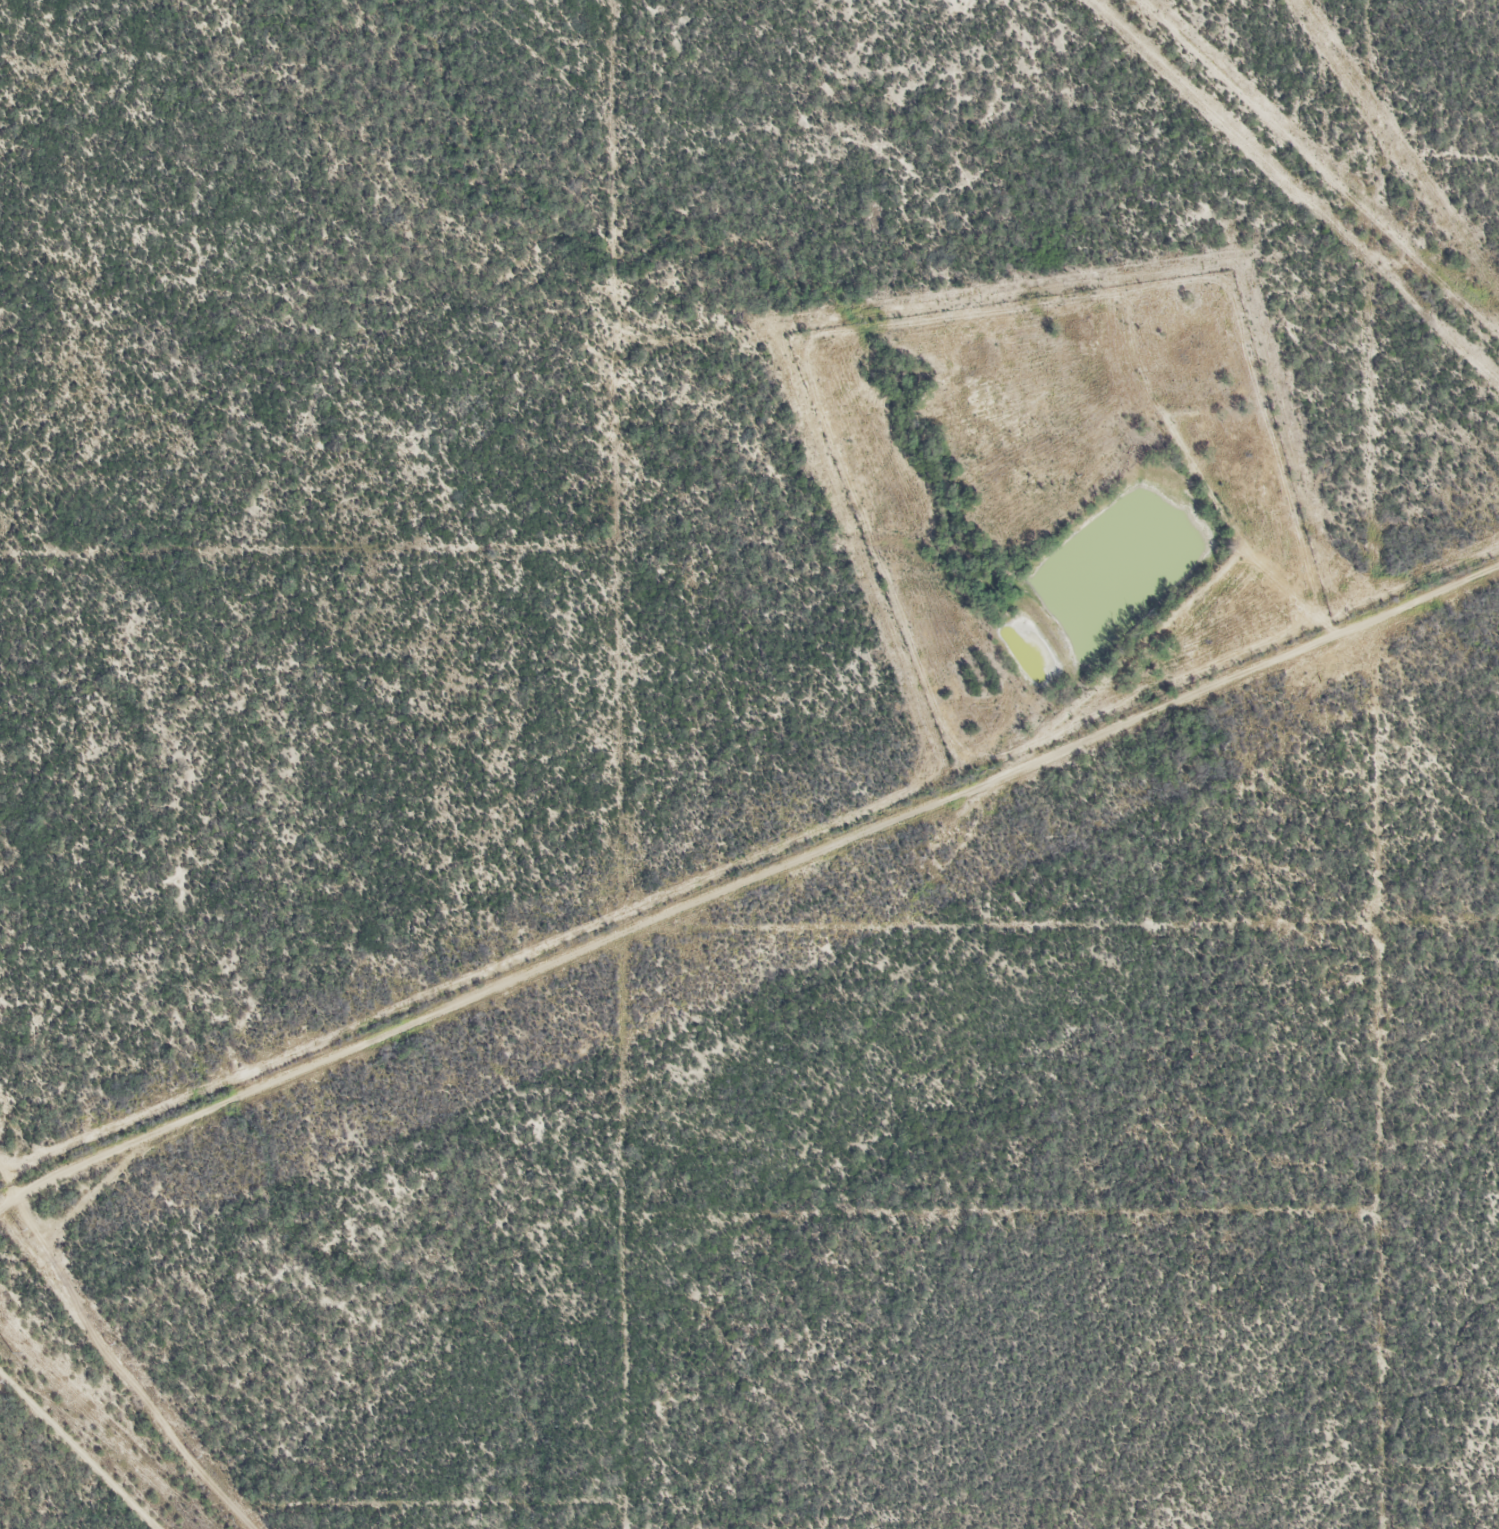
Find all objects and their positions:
power tower: (12, 1355)

